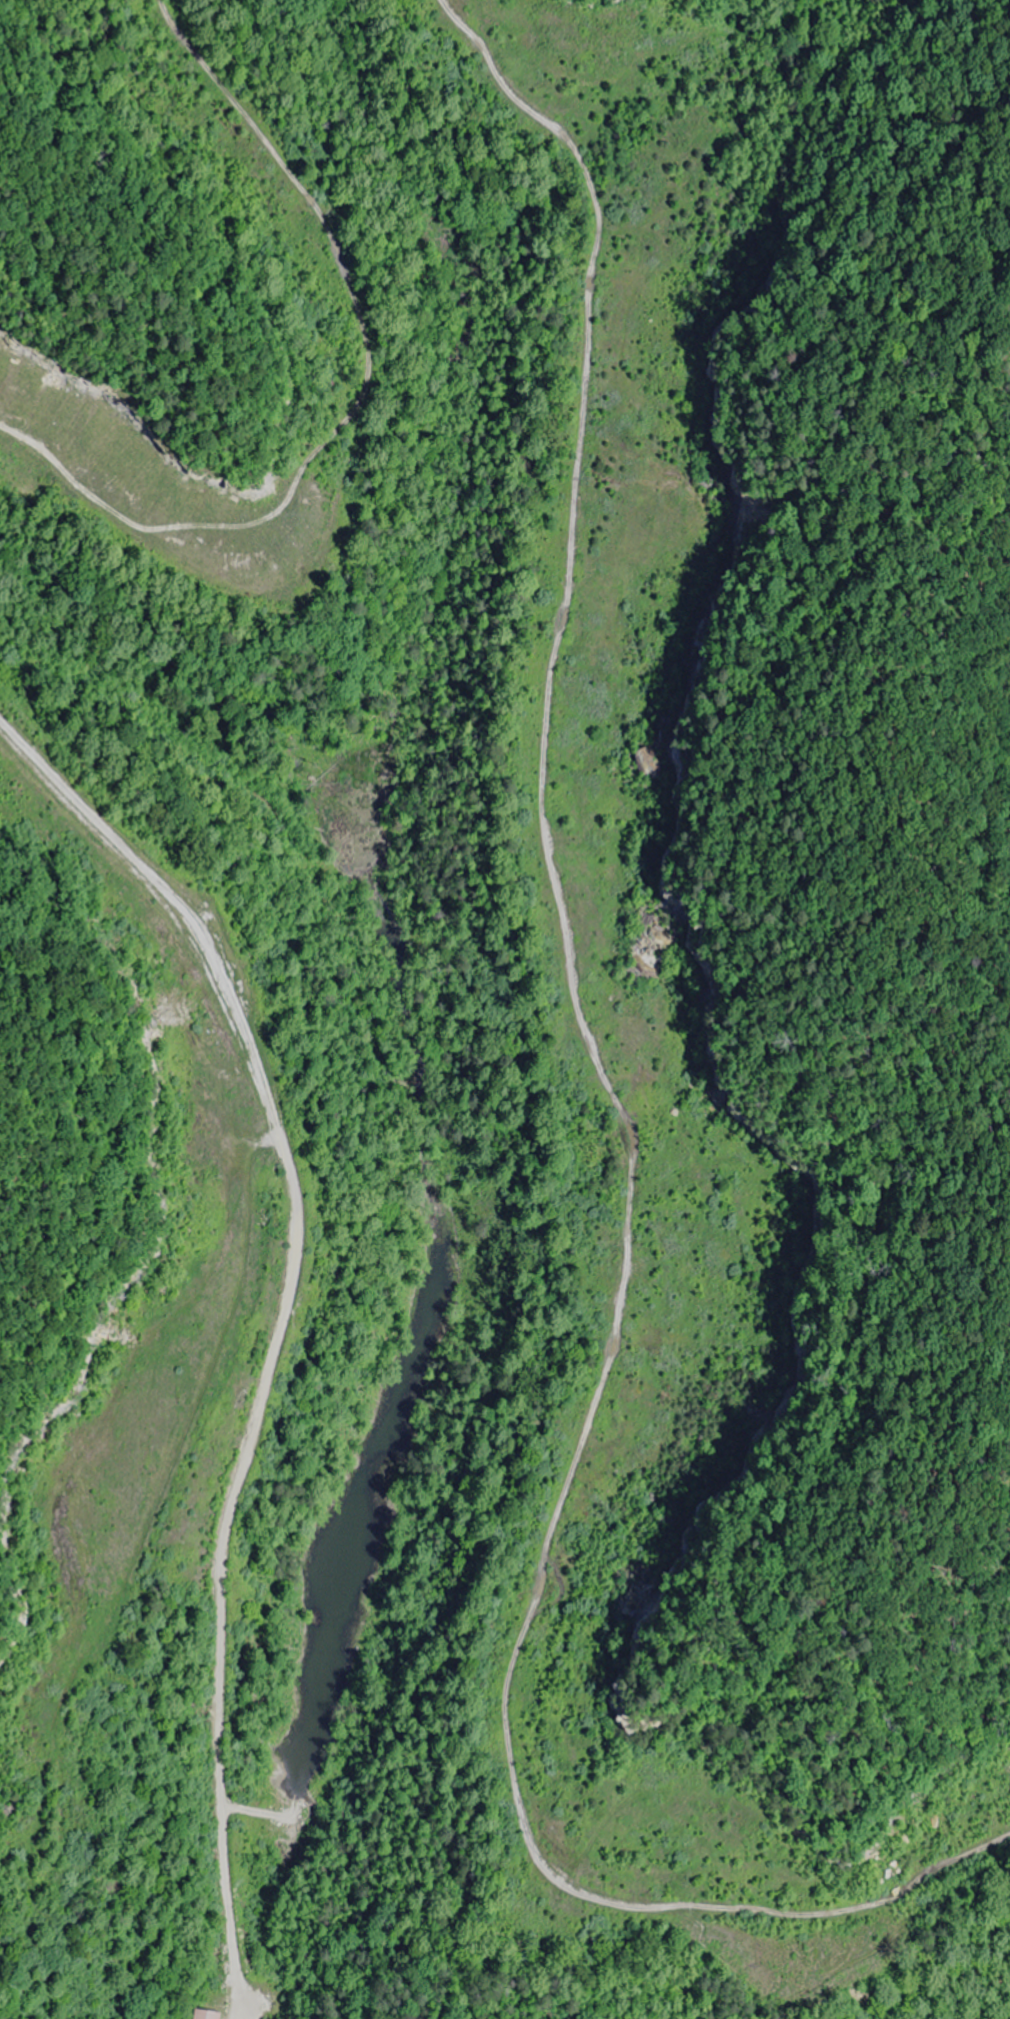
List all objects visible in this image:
building: (209, 2015)

